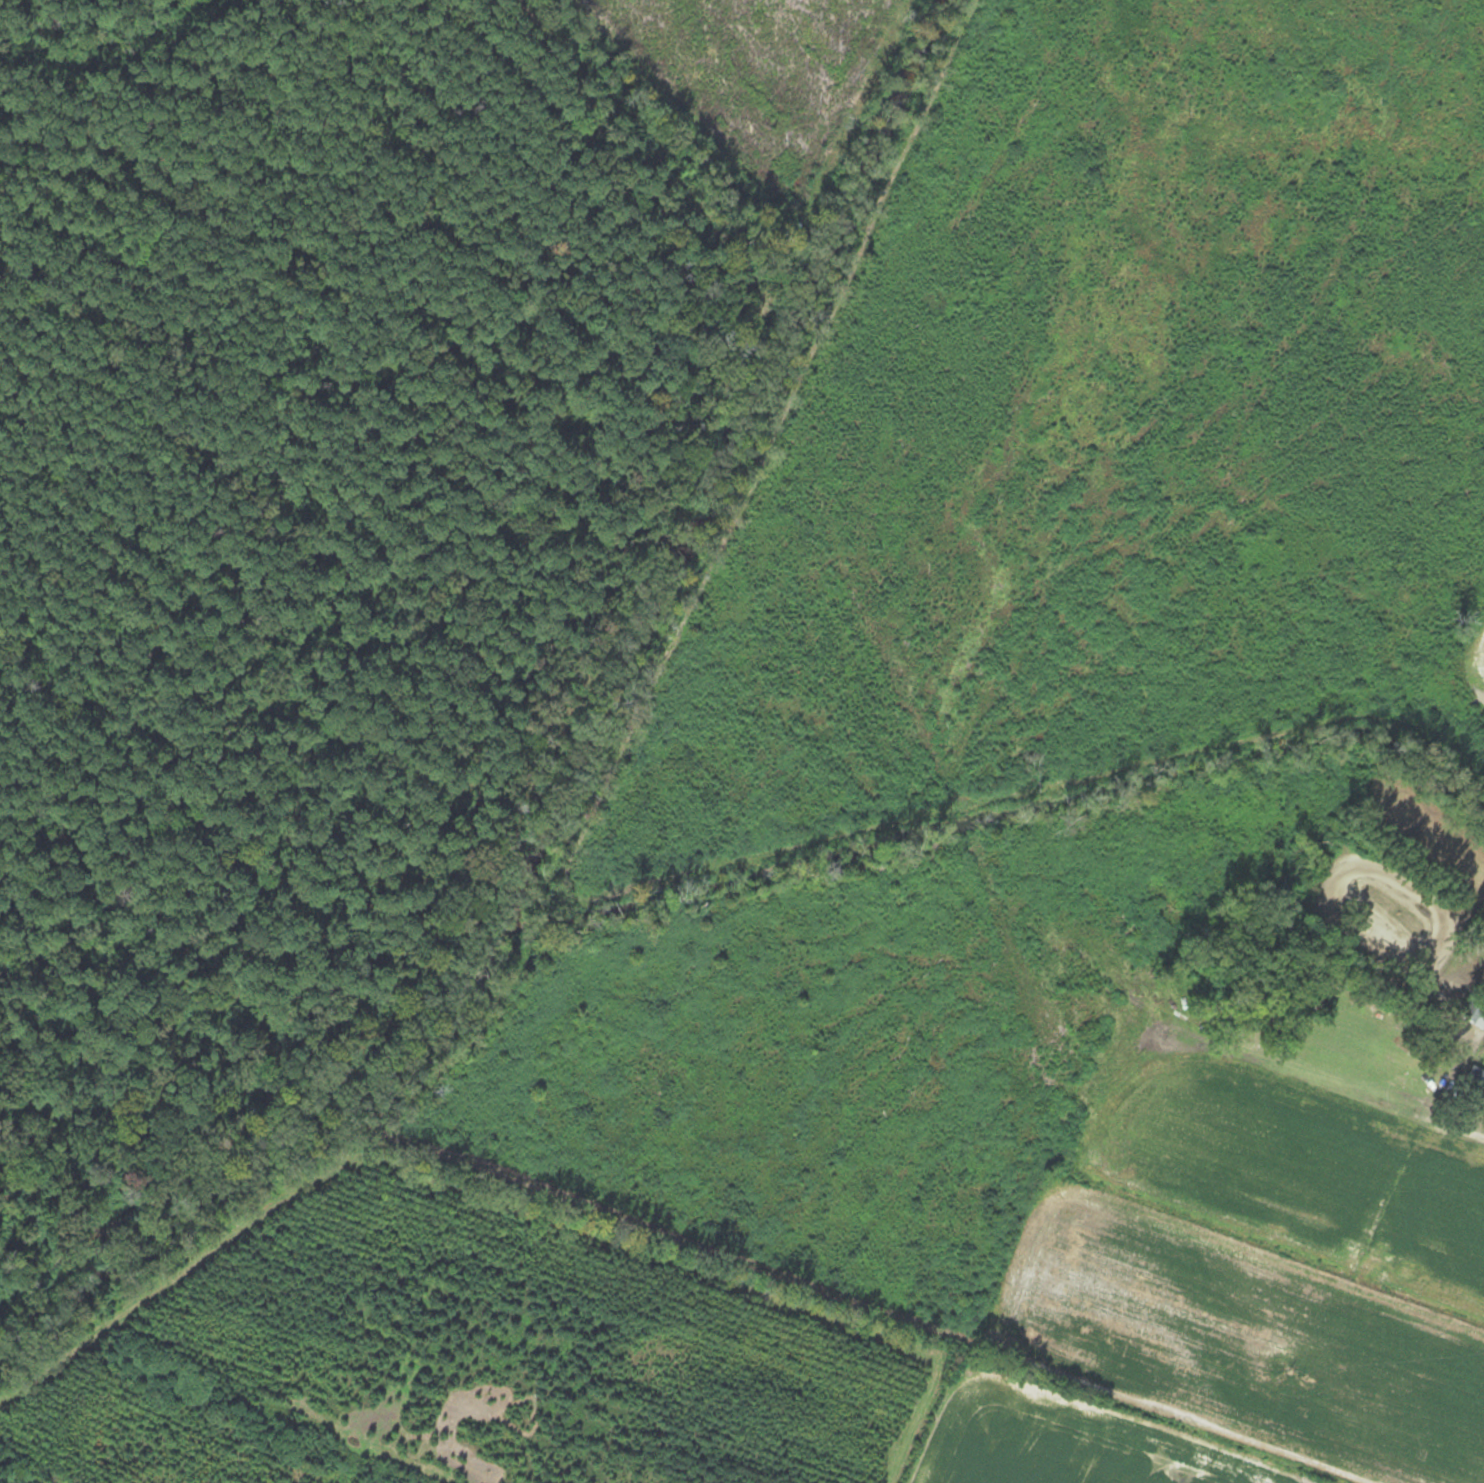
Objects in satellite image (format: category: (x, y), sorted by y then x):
building: (1474, 1014)
building: (1474, 1083)

